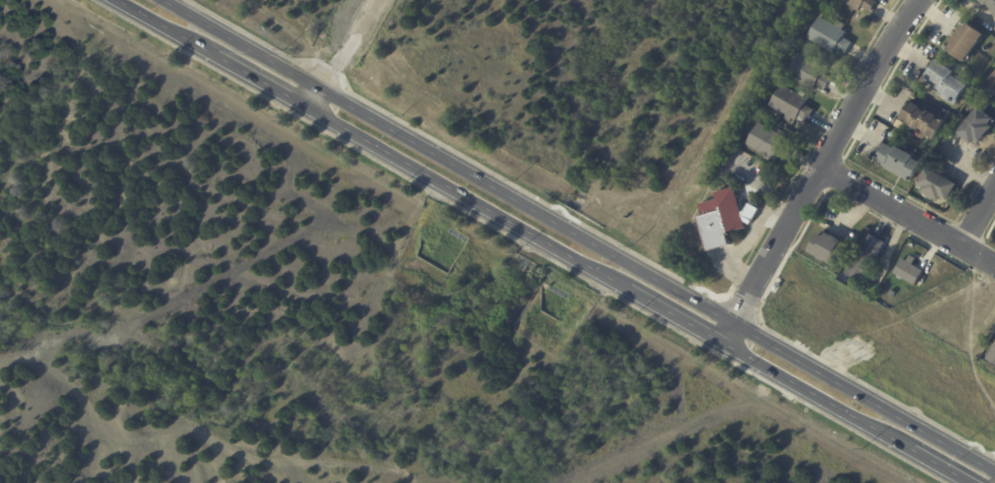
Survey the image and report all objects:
building: (989, 3)
building: (862, 4)
building: (994, 11)
building: (830, 37)
building: (963, 42)
road: (353, 46)
building: (809, 73)
building: (947, 83)
building: (992, 85)
building: (764, 94)
road: (310, 96)
building: (759, 104)
building: (792, 104)
building: (924, 119)
building: (977, 127)
building: (771, 143)
road: (447, 160)
building: (901, 162)
road: (820, 171)
building: (938, 186)
road: (909, 213)
road: (979, 215)
building: (722, 220)
road: (542, 241)
building: (829, 249)
building: (866, 259)
building: (907, 270)
building: (891, 291)
road: (762, 339)
building: (993, 356)
road: (894, 413)

